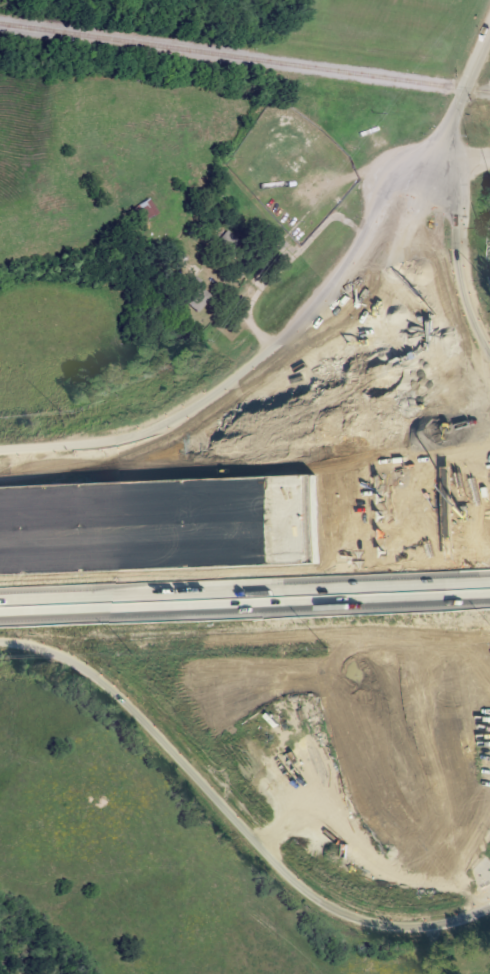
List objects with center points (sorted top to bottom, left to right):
railway: (244, 58)
road: (462, 90)
building: (361, 128)
road: (463, 153)
building: (142, 210)
road: (344, 270)
building: (190, 292)
road: (451, 439)
road: (206, 450)
road: (401, 496)
road: (156, 509)
road: (417, 509)
road: (467, 516)
road: (366, 536)
road: (402, 536)
road: (157, 544)
road: (456, 590)
road: (211, 602)
parking lot: (472, 703)
road: (422, 925)

